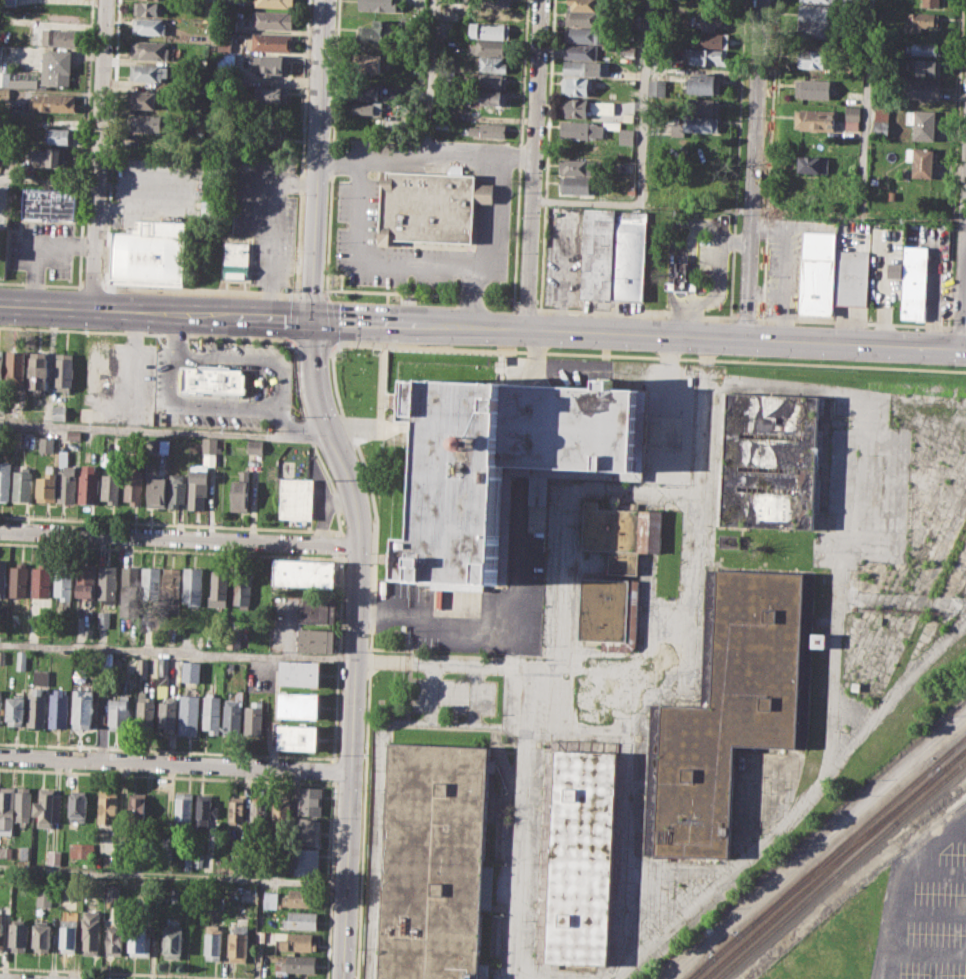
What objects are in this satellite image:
building: (820, 1)
building: (7, 2)
building: (496, 2)
building: (850, 2)
building: (930, 2)
building: (275, 3)
building: (582, 4)
building: (377, 5)
building: (146, 8)
building: (815, 12)
building: (451, 15)
building: (495, 15)
building: (582, 18)
building: (272, 20)
building: (921, 21)
building: (712, 22)
building: (148, 25)
building: (489, 30)
building: (815, 30)
building: (376, 31)
building: (583, 34)
building: (59, 36)
building: (712, 40)
building: (270, 42)
building: (224, 46)
building: (490, 47)
building: (925, 49)
building: (148, 50)
building: (627, 50)
building: (580, 51)
building: (707, 56)
building: (815, 59)
building: (225, 62)
building: (372, 62)
building: (492, 63)
building: (274, 64)
road: (427, 66)
building: (55, 67)
building: (924, 67)
building: (585, 68)
building: (147, 72)
building: (4, 78)
road: (210, 78)
building: (492, 80)
building: (704, 84)
building: (575, 86)
building: (657, 87)
building: (813, 88)
building: (920, 88)
building: (367, 91)
building: (4, 94)
building: (271, 94)
building: (489, 97)
building: (143, 100)
building: (52, 101)
building: (703, 106)
road: (865, 106)
building: (366, 107)
building: (585, 107)
building: (627, 117)
building: (853, 118)
building: (814, 119)
building: (146, 121)
building: (881, 121)
building: (703, 123)
building: (922, 123)
building: (441, 124)
building: (487, 130)
building: (588, 130)
building: (62, 135)
building: (626, 139)
building: (151, 140)
building: (577, 149)
road: (430, 152)
road: (98, 155)
building: (47, 156)
road: (642, 156)
road: (736, 158)
road: (769, 159)
road: (320, 160)
building: (920, 161)
road: (532, 164)
building: (811, 164)
building: (578, 166)
road: (754, 170)
road: (48, 180)
building: (701, 181)
building: (576, 184)
parking lot: (155, 191)
road: (188, 193)
parking lot: (358, 198)
road: (500, 199)
building: (49, 204)
building: (432, 207)
parking lot: (259, 210)
road: (276, 230)
road: (965, 240)
road: (297, 244)
road: (36, 246)
parking lot: (42, 246)
building: (148, 255)
building: (614, 256)
parking lot: (564, 257)
road: (379, 260)
building: (237, 261)
parking lot: (783, 266)
building: (893, 270)
building: (834, 275)
building: (682, 277)
road: (714, 281)
building: (915, 283)
road: (962, 283)
road: (40, 284)
road: (91, 286)
road: (297, 292)
road: (884, 292)
road: (310, 293)
road: (420, 294)
road: (294, 297)
road: (325, 298)
road: (525, 306)
road: (635, 312)
road: (745, 317)
road: (292, 318)
traffic signals: (312, 321)
road: (852, 321)
road: (482, 326)
road: (958, 326)
road: (175, 334)
road: (246, 336)
road: (331, 339)
road: (290, 340)
road: (295, 344)
building: (1, 363)
building: (100, 364)
road: (50, 366)
building: (15, 367)
building: (38, 369)
building: (63, 370)
building: (211, 380)
road: (133, 383)
road: (261, 383)
road: (275, 386)
building: (2, 405)
road: (274, 406)
building: (59, 412)
road: (145, 429)
building: (74, 435)
road: (293, 436)
water tower: (470, 442)
building: (46, 444)
building: (209, 445)
building: (255, 445)
building: (160, 446)
building: (773, 462)
building: (501, 465)
building: (67, 478)
building: (5, 480)
building: (89, 483)
building: (197, 484)
building: (23, 485)
building: (47, 485)
building: (111, 486)
building: (157, 487)
building: (132, 489)
building: (177, 489)
building: (240, 492)
road: (370, 494)
building: (297, 500)
road: (169, 523)
building: (623, 533)
road: (181, 539)
building: (728, 541)
road: (340, 544)
road: (170, 550)
building: (303, 573)
building: (2, 577)
building: (63, 579)
building: (18, 580)
building: (40, 580)
building: (84, 581)
building: (106, 581)
building: (129, 581)
building: (150, 581)
building: (172, 581)
building: (194, 586)
building: (241, 587)
building: (219, 588)
road: (838, 606)
building: (317, 611)
building: (606, 612)
building: (103, 619)
building: (316, 640)
building: (818, 640)
road: (359, 645)
road: (179, 651)
building: (105, 659)
building: (21, 660)
road: (368, 661)
building: (142, 665)
building: (162, 665)
building: (190, 671)
road: (691, 672)
building: (300, 673)
building: (40, 676)
building: (0, 705)
building: (82, 705)
building: (299, 705)
building: (37, 708)
building: (59, 708)
building: (146, 710)
building: (15, 711)
building: (118, 711)
building: (212, 713)
building: (167, 714)
building: (188, 714)
building: (735, 714)
building: (253, 716)
building: (231, 717)
building: (298, 737)
road: (268, 754)
road: (333, 758)
railway: (953, 758)
road: (177, 760)
road: (334, 769)
road: (167, 775)
building: (310, 800)
building: (23, 803)
building: (77, 805)
building: (48, 806)
building: (136, 807)
building: (237, 807)
building: (6, 808)
building: (106, 808)
road: (796, 809)
building: (183, 810)
building: (205, 811)
building: (258, 814)
building: (282, 815)
road: (629, 820)
road: (523, 824)
road: (362, 825)
building: (309, 830)
road: (958, 834)
railway: (852, 835)
building: (80, 849)
building: (5, 851)
building: (24, 851)
road: (377, 852)
railway: (840, 852)
building: (54, 856)
building: (197, 858)
building: (584, 858)
building: (307, 860)
building: (437, 863)
building: (187, 864)
railway: (841, 869)
road: (175, 873)
railway: (821, 874)
road: (932, 875)
road: (330, 878)
road: (896, 884)
building: (164, 887)
building: (113, 893)
building: (300, 897)
building: (44, 898)
building: (269, 900)
parking lot: (926, 907)
road: (929, 916)
building: (300, 920)
building: (1, 930)
building: (90, 932)
building: (19, 935)
building: (69, 935)
building: (42, 937)
building: (114, 939)
building: (138, 939)
building: (172, 940)
building: (213, 941)
building: (238, 941)
building: (196, 942)
building: (298, 942)
railway: (726, 945)
road: (926, 954)
building: (300, 964)
railway: (700, 967)
railway: (701, 967)
road: (132, 972)

